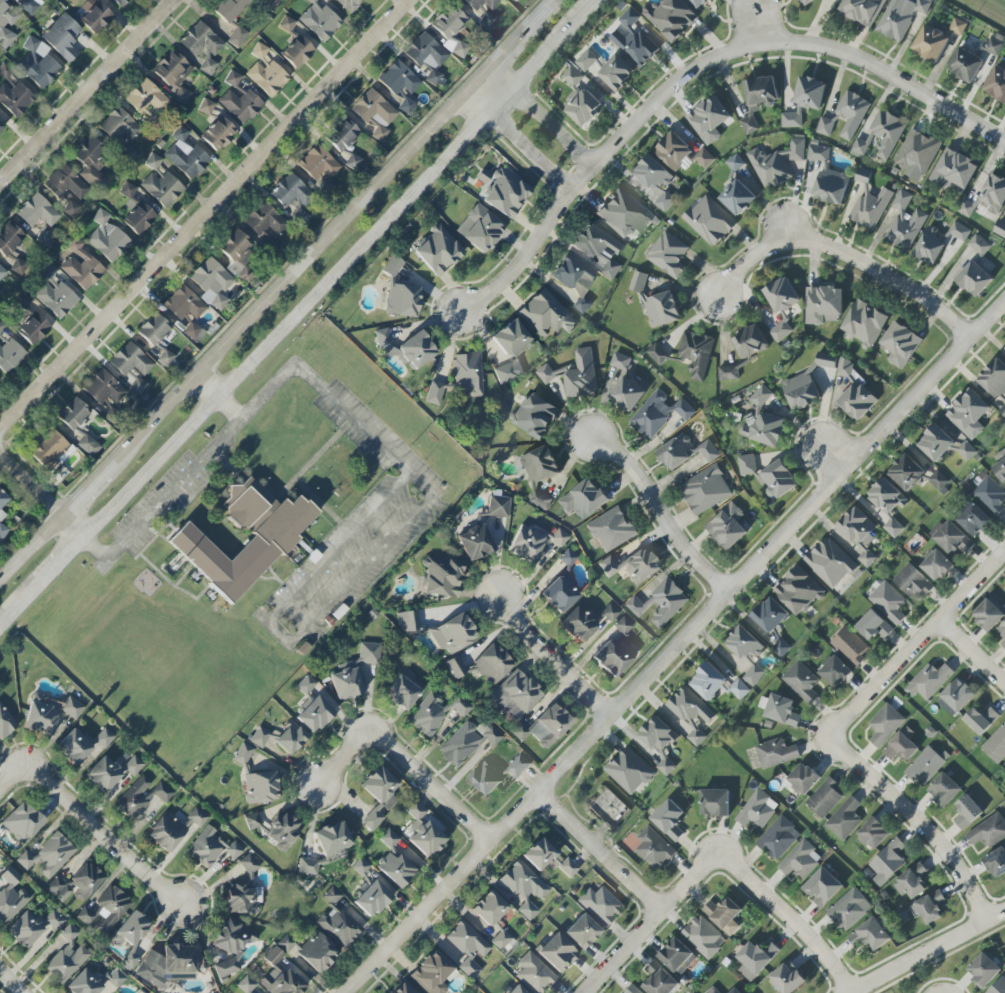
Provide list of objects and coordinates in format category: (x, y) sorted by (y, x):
building: (513, 0)
building: (120, 2)
building: (699, 2)
building: (806, 2)
building: (480, 3)
building: (271, 4)
building: (348, 4)
road: (551, 4)
building: (29, 5)
building: (229, 9)
building: (862, 11)
building: (96, 17)
building: (901, 17)
building: (671, 18)
building: (319, 21)
building: (448, 22)
building: (6, 24)
building: (286, 24)
road: (756, 26)
building: (958, 26)
building: (62, 37)
building: (237, 37)
road: (520, 38)
building: (634, 40)
building: (201, 43)
building: (932, 43)
building: (994, 47)
building: (460, 49)
building: (259, 51)
building: (297, 52)
building: (427, 57)
building: (586, 60)
building: (38, 63)
building: (966, 64)
building: (207, 67)
building: (617, 72)
building: (173, 74)
road: (887, 75)
building: (573, 76)
building: (232, 78)
building: (267, 78)
building: (398, 79)
building: (996, 84)
road: (85, 91)
building: (810, 93)
building: (146, 97)
building: (15, 98)
building: (758, 99)
building: (584, 104)
building: (241, 105)
building: (406, 105)
building: (206, 106)
building: (374, 113)
building: (851, 113)
road: (541, 117)
building: (708, 120)
building: (791, 120)
building: (825, 125)
building: (119, 127)
building: (1, 128)
building: (218, 134)
building: (341, 134)
building: (886, 134)
road: (519, 140)
building: (860, 147)
building: (673, 151)
building: (818, 152)
building: (917, 152)
building: (185, 155)
building: (704, 158)
building: (153, 161)
building: (90, 162)
building: (352, 162)
road: (595, 163)
building: (735, 163)
building: (777, 163)
building: (318, 164)
building: (953, 172)
building: (652, 173)
building: (65, 183)
building: (831, 185)
building: (162, 188)
building: (291, 192)
building: (505, 193)
building: (994, 194)
building: (738, 197)
building: (664, 201)
building: (902, 204)
building: (869, 206)
building: (966, 208)
building: (71, 209)
building: (37, 211)
building: (135, 211)
road: (205, 213)
building: (623, 214)
building: (264, 219)
building: (709, 221)
building: (479, 228)
building: (1000, 228)
building: (906, 230)
building: (959, 232)
building: (45, 235)
building: (9, 238)
building: (107, 238)
building: (596, 242)
building: (979, 245)
building: (929, 246)
building: (437, 250)
building: (237, 254)
building: (668, 255)
road: (848, 257)
road: (302, 264)
building: (81, 266)
building: (392, 266)
building: (18, 267)
road: (339, 267)
building: (611, 269)
building: (48, 272)
building: (2, 273)
building: (974, 279)
building: (574, 281)
building: (212, 282)
building: (638, 282)
building: (56, 299)
building: (402, 299)
building: (183, 303)
building: (823, 305)
building: (782, 306)
building: (662, 309)
building: (546, 314)
building: (865, 324)
building: (1, 327)
building: (34, 329)
building: (153, 329)
building: (192, 331)
building: (383, 338)
building: (749, 342)
building: (900, 344)
building: (511, 350)
building: (416, 351)
building: (657, 354)
building: (696, 354)
building: (10, 355)
building: (165, 358)
building: (826, 360)
building: (620, 361)
building: (130, 365)
building: (844, 368)
building: (729, 371)
building: (551, 373)
building: (468, 374)
building: (581, 375)
building: (994, 379)
building: (103, 388)
road: (323, 389)
building: (800, 391)
building: (433, 392)
building: (627, 394)
road: (220, 397)
building: (761, 397)
building: (857, 402)
building: (73, 413)
building: (659, 414)
building: (968, 414)
building: (534, 416)
building: (764, 429)
building: (945, 442)
building: (88, 445)
building: (49, 449)
building: (708, 451)
building: (677, 452)
road: (832, 458)
building: (747, 465)
building: (1000, 466)
building: (540, 472)
building: (907, 472)
building: (777, 480)
building: (938, 480)
road: (87, 488)
building: (705, 490)
building: (990, 494)
road: (42, 495)
building: (887, 496)
building: (3, 499)
road: (169, 499)
building: (584, 499)
parking lot: (168, 502)
road: (661, 515)
building: (973, 520)
building: (2, 526)
building: (728, 526)
building: (893, 528)
building: (611, 529)
parking lot: (356, 531)
building: (858, 534)
building: (559, 538)
building: (951, 538)
building: (271, 539)
building: (475, 543)
building: (526, 544)
road: (31, 546)
road: (342, 547)
road: (101, 554)
building: (568, 558)
building: (830, 563)
road: (55, 565)
building: (936, 565)
building: (632, 566)
road: (362, 567)
building: (442, 577)
building: (913, 583)
road: (973, 591)
building: (798, 592)
building: (558, 595)
building: (888, 602)
building: (660, 603)
road: (13, 607)
building: (609, 613)
building: (770, 615)
building: (988, 615)
building: (407, 621)
building: (578, 624)
building: (623, 626)
building: (873, 626)
building: (1002, 629)
road: (281, 631)
building: (453, 634)
building: (744, 644)
building: (1003, 644)
building: (850, 646)
road: (675, 647)
building: (368, 653)
road: (973, 654)
building: (613, 657)
road: (553, 661)
building: (835, 672)
building: (753, 675)
building: (346, 681)
building: (708, 681)
building: (801, 681)
building: (929, 681)
building: (739, 689)
building: (403, 690)
building: (516, 692)
building: (958, 695)
building: (313, 705)
building: (689, 707)
building: (72, 708)
building: (780, 710)
building: (436, 711)
building: (42, 715)
building: (981, 719)
building: (5, 722)
building: (885, 725)
building: (544, 726)
building: (259, 737)
building: (696, 737)
building: (104, 738)
building: (290, 738)
building: (468, 741)
building: (659, 742)
building: (74, 746)
building: (901, 746)
building: (996, 746)
building: (776, 753)
building: (242, 754)
road: (401, 757)
building: (133, 765)
building: (926, 765)
building: (518, 767)
road: (863, 769)
building: (629, 771)
building: (103, 774)
building: (804, 778)
road: (12, 779)
building: (485, 779)
building: (260, 787)
building: (944, 790)
building: (378, 795)
building: (141, 796)
building: (826, 797)
building: (715, 803)
building: (609, 809)
building: (758, 809)
building: (967, 812)
building: (195, 819)
building: (669, 819)
building: (845, 819)
building: (22, 822)
building: (275, 828)
building: (753, 828)
building: (166, 832)
building: (423, 832)
building: (989, 832)
building: (874, 833)
road: (106, 837)
building: (778, 838)
building: (333, 839)
building: (388, 839)
building: (210, 848)
building: (654, 849)
road: (598, 853)
building: (539, 854)
building: (48, 855)
building: (801, 860)
building: (888, 860)
building: (996, 863)
building: (308, 867)
building: (568, 867)
building: (395, 869)
building: (912, 882)
building: (76, 883)
building: (822, 887)
building: (524, 888)
building: (372, 890)
building: (244, 893)
building: (332, 895)
building: (11, 896)
building: (601, 905)
building: (929, 907)
building: (489, 908)
building: (111, 909)
building: (849, 909)
building: (87, 913)
building: (724, 915)
building: (54, 920)
road: (792, 920)
road: (651, 924)
building: (338, 926)
building: (25, 929)
building: (582, 931)
building: (870, 935)
building: (130, 936)
building: (704, 937)
building: (502, 940)
building: (285, 943)
building: (232, 947)
building: (468, 947)
road: (931, 951)
building: (317, 952)
building: (557, 952)
building: (67, 956)
building: (677, 956)
building: (755, 959)
building: (168, 965)
building: (984, 970)
building: (432, 973)
building: (534, 973)
building: (280, 975)
building: (116, 978)
building: (787, 979)
road: (10, 983)
building: (84, 983)
building: (660, 983)
building: (246, 985)
building: (998, 986)
building: (402, 989)
building: (517, 989)
building: (633, 990)
building: (713, 990)
building: (735, 991)

